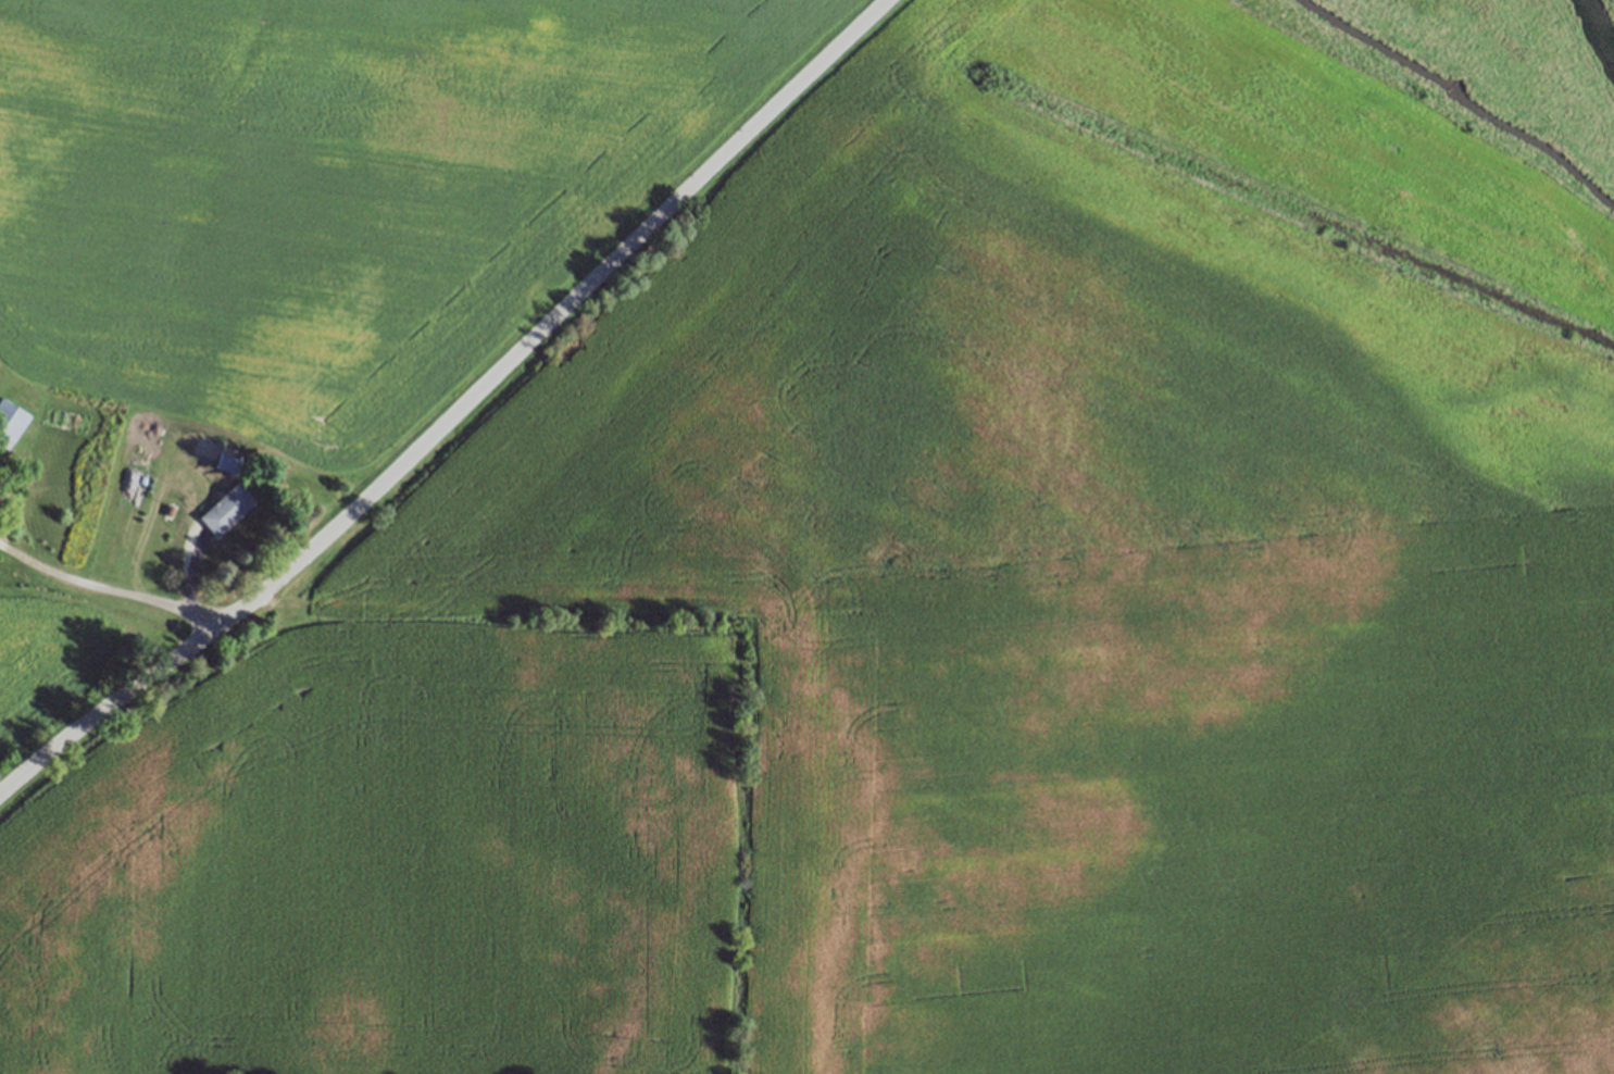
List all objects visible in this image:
road: (456, 412)
building: (10, 422)
building: (227, 508)
road: (109, 589)
crop: (937, 629)

